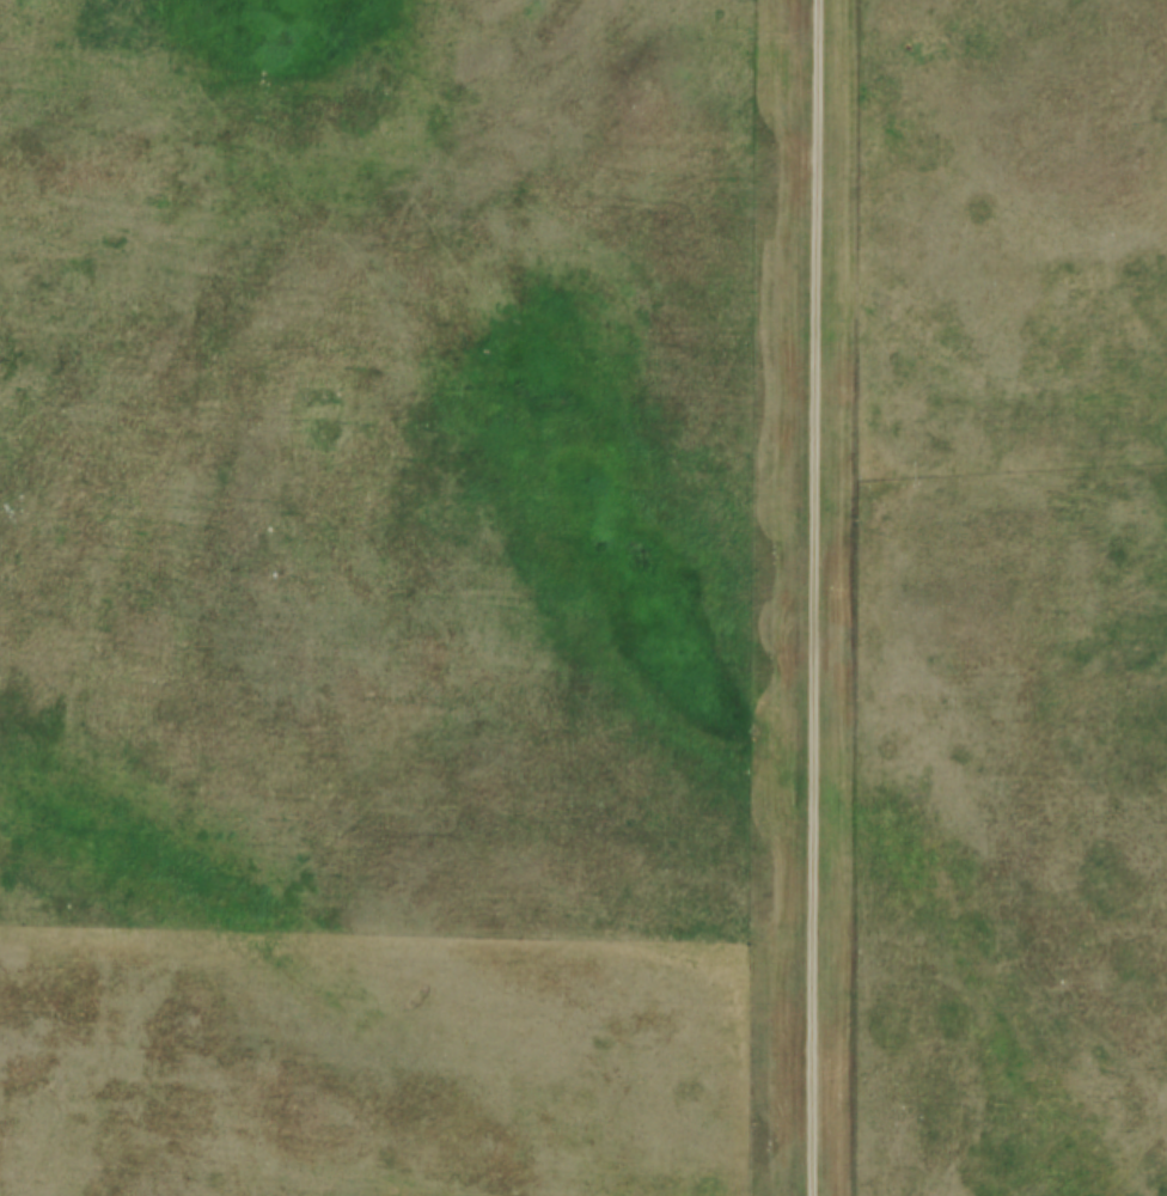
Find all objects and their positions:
road: (819, 597)

